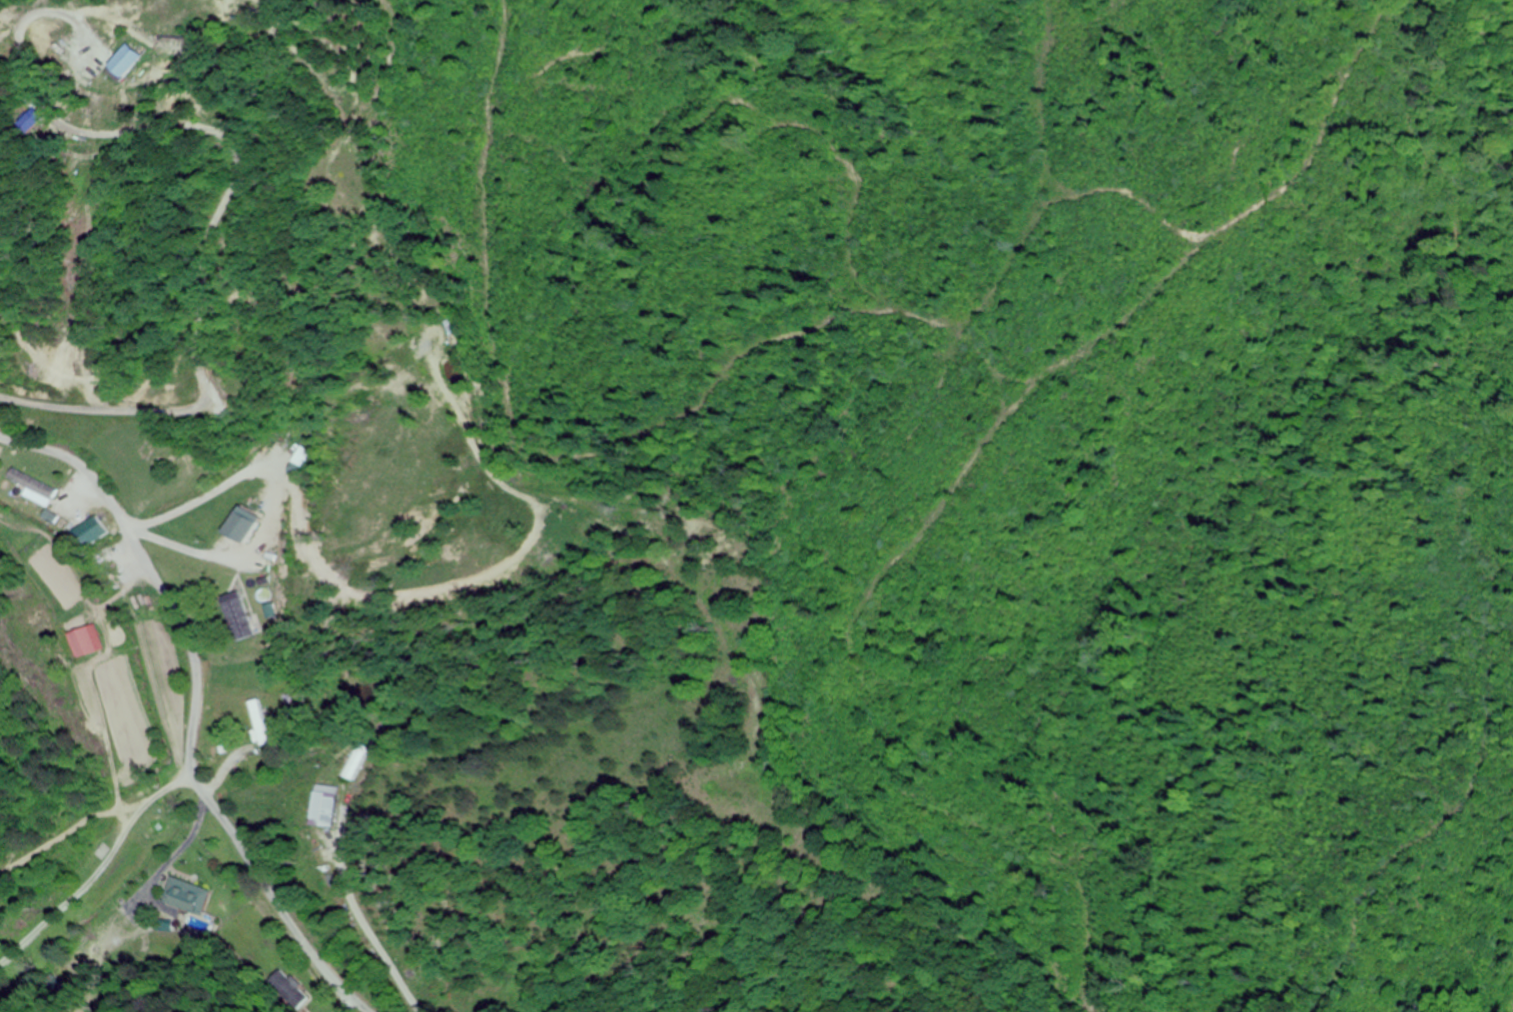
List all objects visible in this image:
building: (127, 58)
building: (450, 327)
building: (31, 485)
building: (240, 526)
building: (89, 533)
building: (237, 616)
building: (85, 642)
road: (190, 712)
building: (257, 723)
building: (356, 761)
building: (326, 806)
building: (190, 905)
road: (811, 962)

